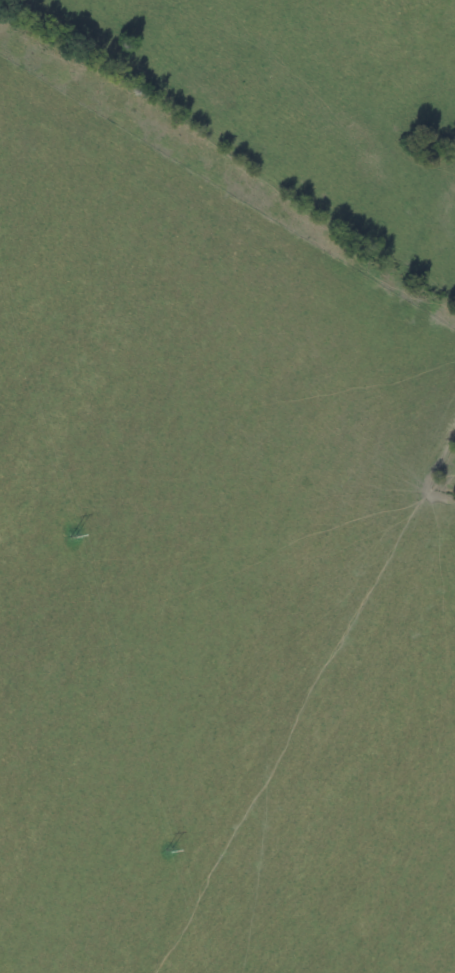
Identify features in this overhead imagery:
power tower: (72, 536)
power tower: (168, 849)

